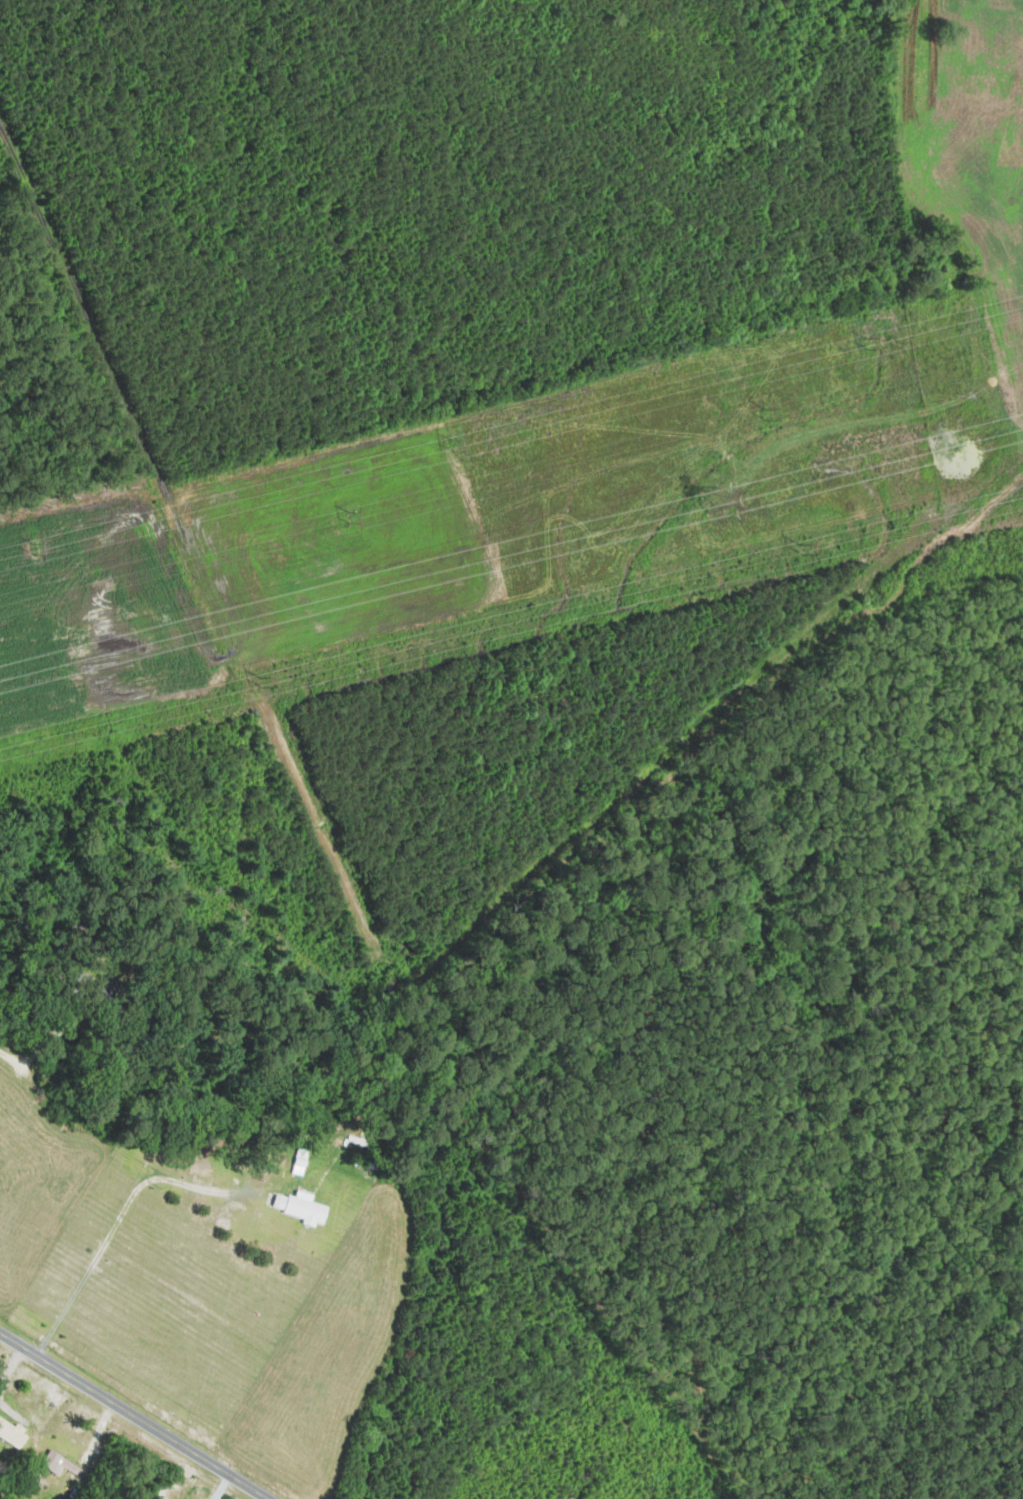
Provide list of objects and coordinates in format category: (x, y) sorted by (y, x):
power tower: (867, 347)
power tower: (766, 415)
power tower: (456, 448)
power tower: (714, 491)
power tower: (348, 515)
power tower: (33, 548)
power tower: (805, 550)
power tower: (264, 680)
building: (300, 1166)
building: (301, 1208)
road: (133, 1415)
building: (12, 1434)
building: (60, 1464)

